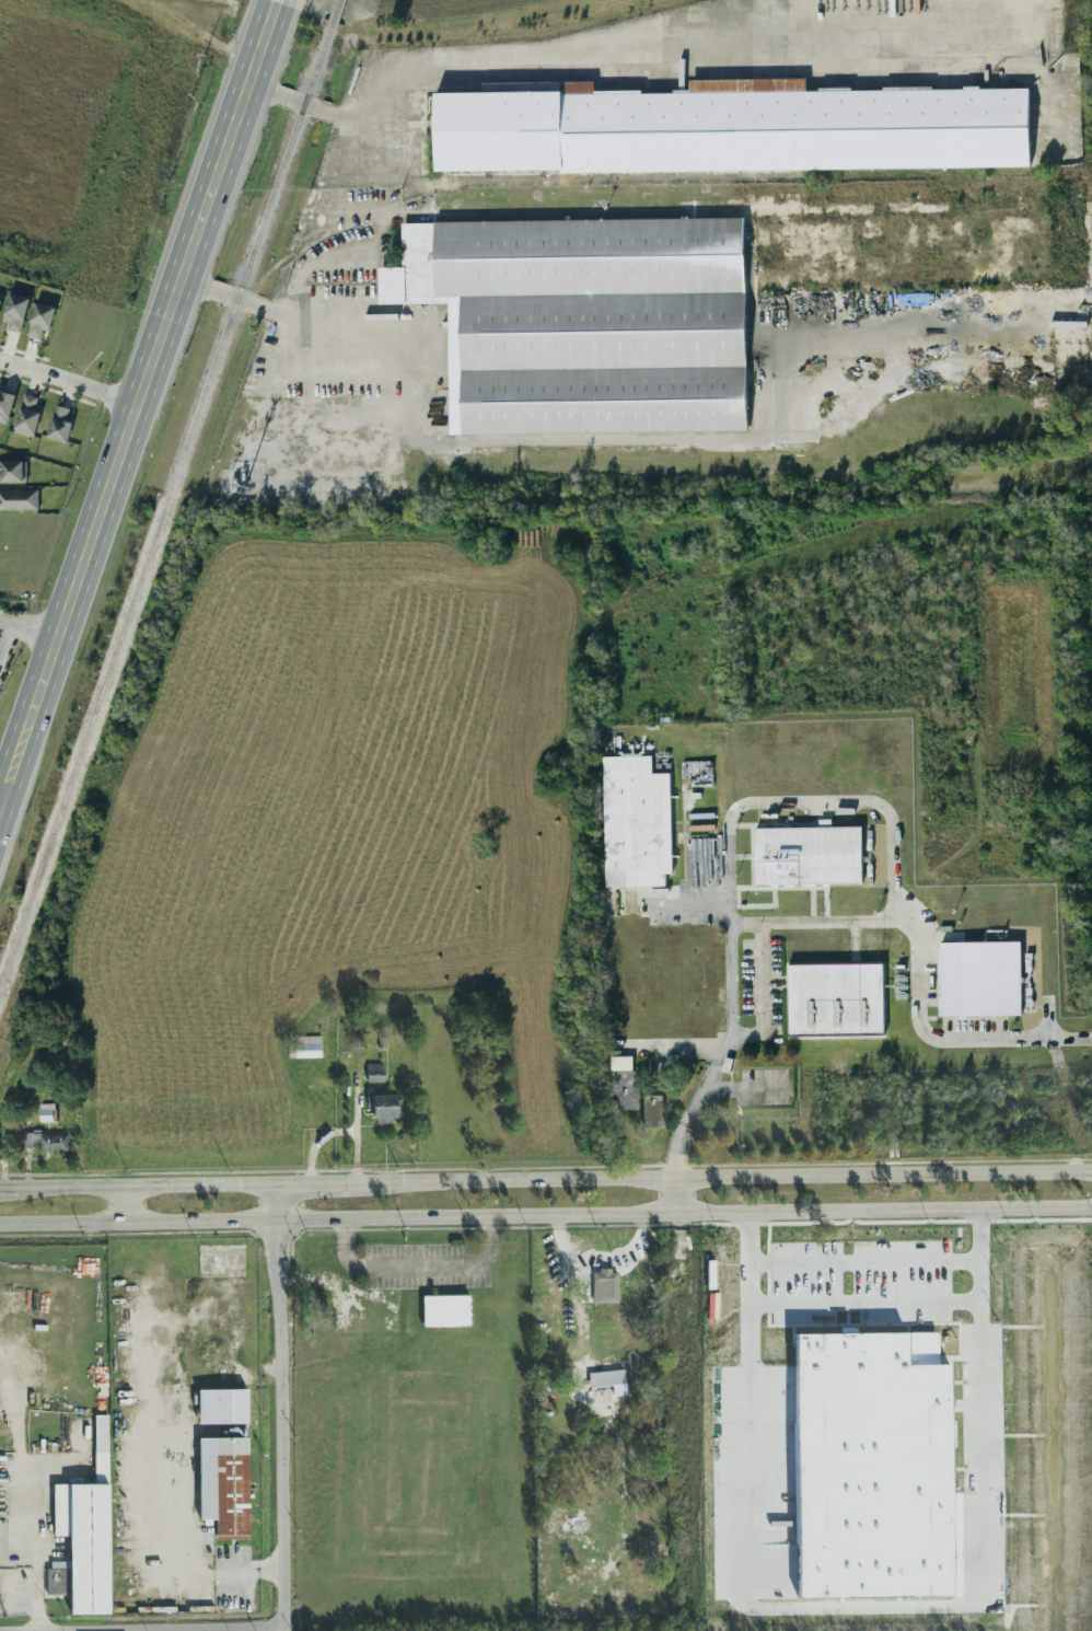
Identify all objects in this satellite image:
road: (275, 1)
railway: (334, 9)
road: (434, 67)
road: (299, 103)
road: (405, 124)
building: (732, 128)
road: (311, 263)
building: (0, 296)
building: (15, 312)
road: (356, 316)
building: (39, 320)
building: (584, 322)
road: (309, 380)
road: (68, 385)
road: (137, 403)
building: (5, 405)
building: (27, 415)
building: (60, 424)
building: (11, 472)
building: (19, 499)
railway: (166, 500)
road: (28, 628)
road: (3, 637)
road: (841, 801)
building: (636, 822)
building: (808, 856)
road: (693, 865)
road: (692, 904)
road: (822, 923)
building: (981, 979)
road: (762, 996)
building: (835, 1000)
road: (1048, 1018)
road: (730, 1026)
road: (949, 1040)
building: (306, 1048)
road: (682, 1054)
building: (374, 1074)
building: (623, 1084)
building: (382, 1108)
building: (652, 1110)
building: (45, 1112)
building: (46, 1142)
road: (721, 1179)
road: (314, 1184)
road: (138, 1188)
road: (675, 1196)
road: (124, 1206)
road: (545, 1216)
road: (864, 1261)
road: (419, 1266)
building: (605, 1287)
road: (866, 1302)
building: (445, 1311)
building: (607, 1379)
building: (221, 1407)
road: (284, 1408)
building: (223, 1487)
building: (83, 1536)
road: (863, 1605)

